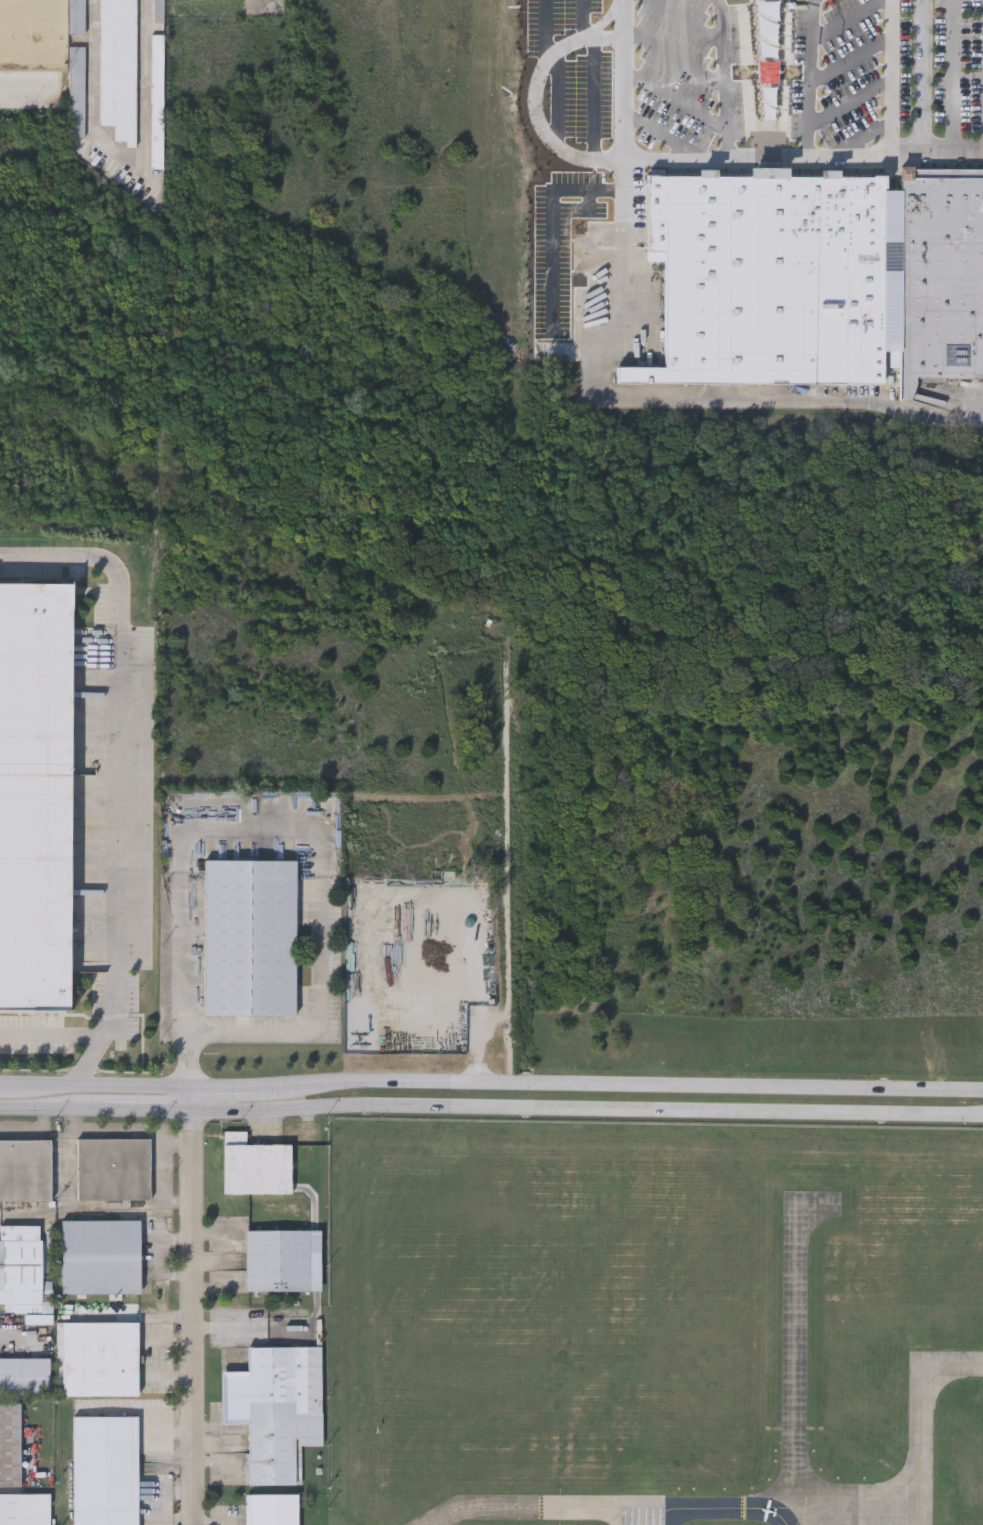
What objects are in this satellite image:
building: (158, 11)
building: (77, 16)
road: (848, 20)
road: (583, 21)
road: (682, 21)
road: (603, 23)
road: (545, 32)
building: (158, 55)
road: (673, 58)
road: (849, 61)
building: (118, 67)
road: (921, 75)
road: (952, 75)
road: (889, 78)
road: (723, 79)
road: (809, 79)
road: (622, 80)
road: (26, 87)
building: (77, 90)
road: (532, 98)
road: (557, 99)
road: (592, 99)
road: (673, 101)
road: (848, 102)
road: (662, 137)
road: (857, 141)
road: (935, 150)
road: (127, 153)
road: (754, 160)
building: (112, 172)
road: (551, 229)
building: (940, 272)
building: (775, 276)
road: (573, 350)
road: (669, 395)
road: (115, 773)
building: (35, 793)
road: (286, 828)
road: (504, 904)
building: (250, 936)
road: (477, 977)
road: (48, 1034)
road: (509, 1049)
road: (625, 1085)
road: (96, 1087)
road: (231, 1088)
road: (97, 1106)
road: (588, 1111)
building: (256, 1164)
building: (110, 1167)
building: (26, 1168)
building: (100, 1255)
building: (278, 1258)
building: (20, 1262)
road: (194, 1306)
road: (133, 1316)
airport: (655, 1324)
road: (168, 1340)
building: (99, 1356)
building: (24, 1373)
road: (168, 1375)
building: (275, 1407)
road: (142, 1410)
building: (10, 1442)
building: (102, 1470)
building: (25, 1508)
building: (274, 1508)
airport apron: (828, 1509)
airport taxiway: (613, 1515)
airport runway: (645, 1515)

